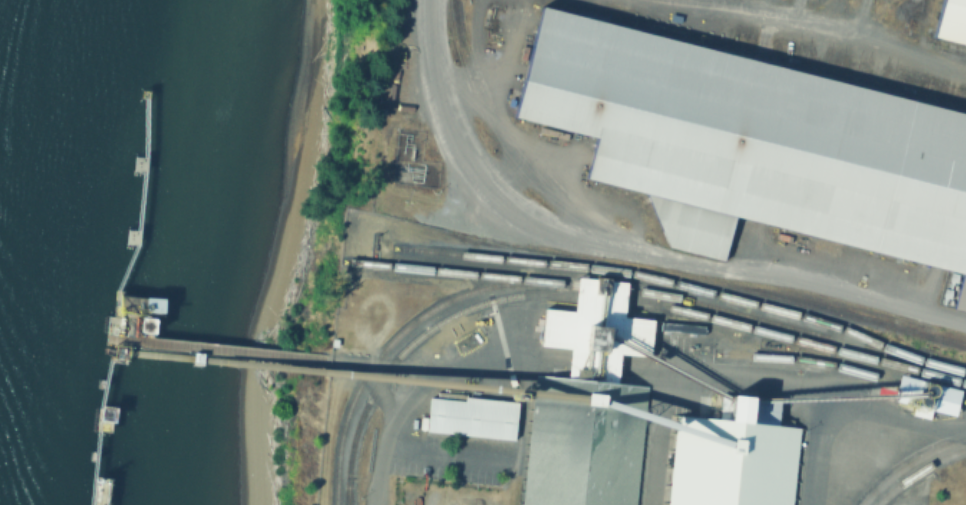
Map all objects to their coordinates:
building: (952, 21)
road: (850, 38)
building: (747, 138)
road: (537, 209)
railway: (649, 246)
railway: (641, 255)
railway: (456, 275)
railway: (667, 282)
railway: (587, 288)
pier: (116, 294)
building: (962, 298)
road: (871, 300)
railway: (598, 302)
building: (673, 325)
pier: (221, 352)
railway: (814, 354)
railway: (872, 355)
road: (537, 361)
road: (595, 364)
railway: (844, 371)
road: (795, 387)
building: (928, 396)
road: (408, 403)
building: (591, 404)
building: (474, 420)
road: (820, 453)
building: (737, 457)
railway: (910, 464)
railway: (918, 472)
railway: (348, 492)

